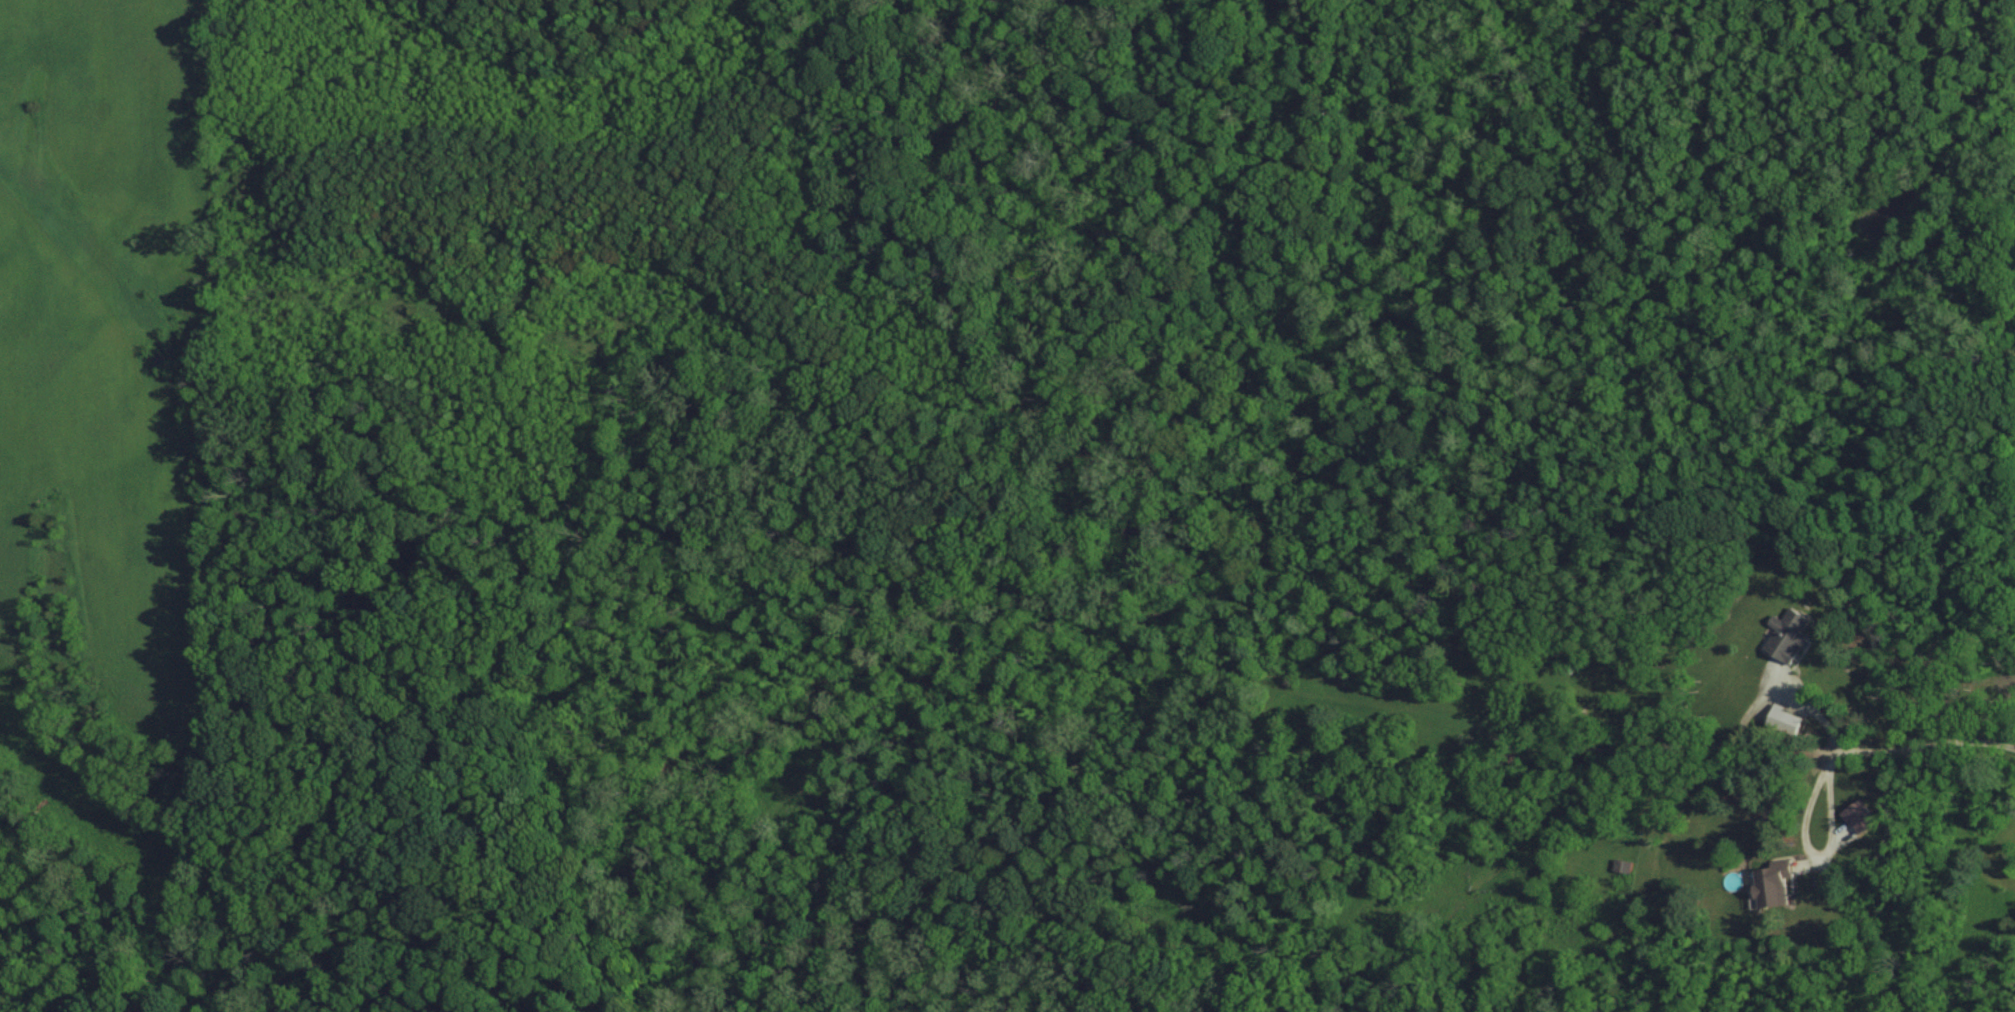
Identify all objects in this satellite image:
building: (1791, 634)
road: (1886, 749)
building: (1863, 816)
road: (1806, 849)
building: (1777, 884)

